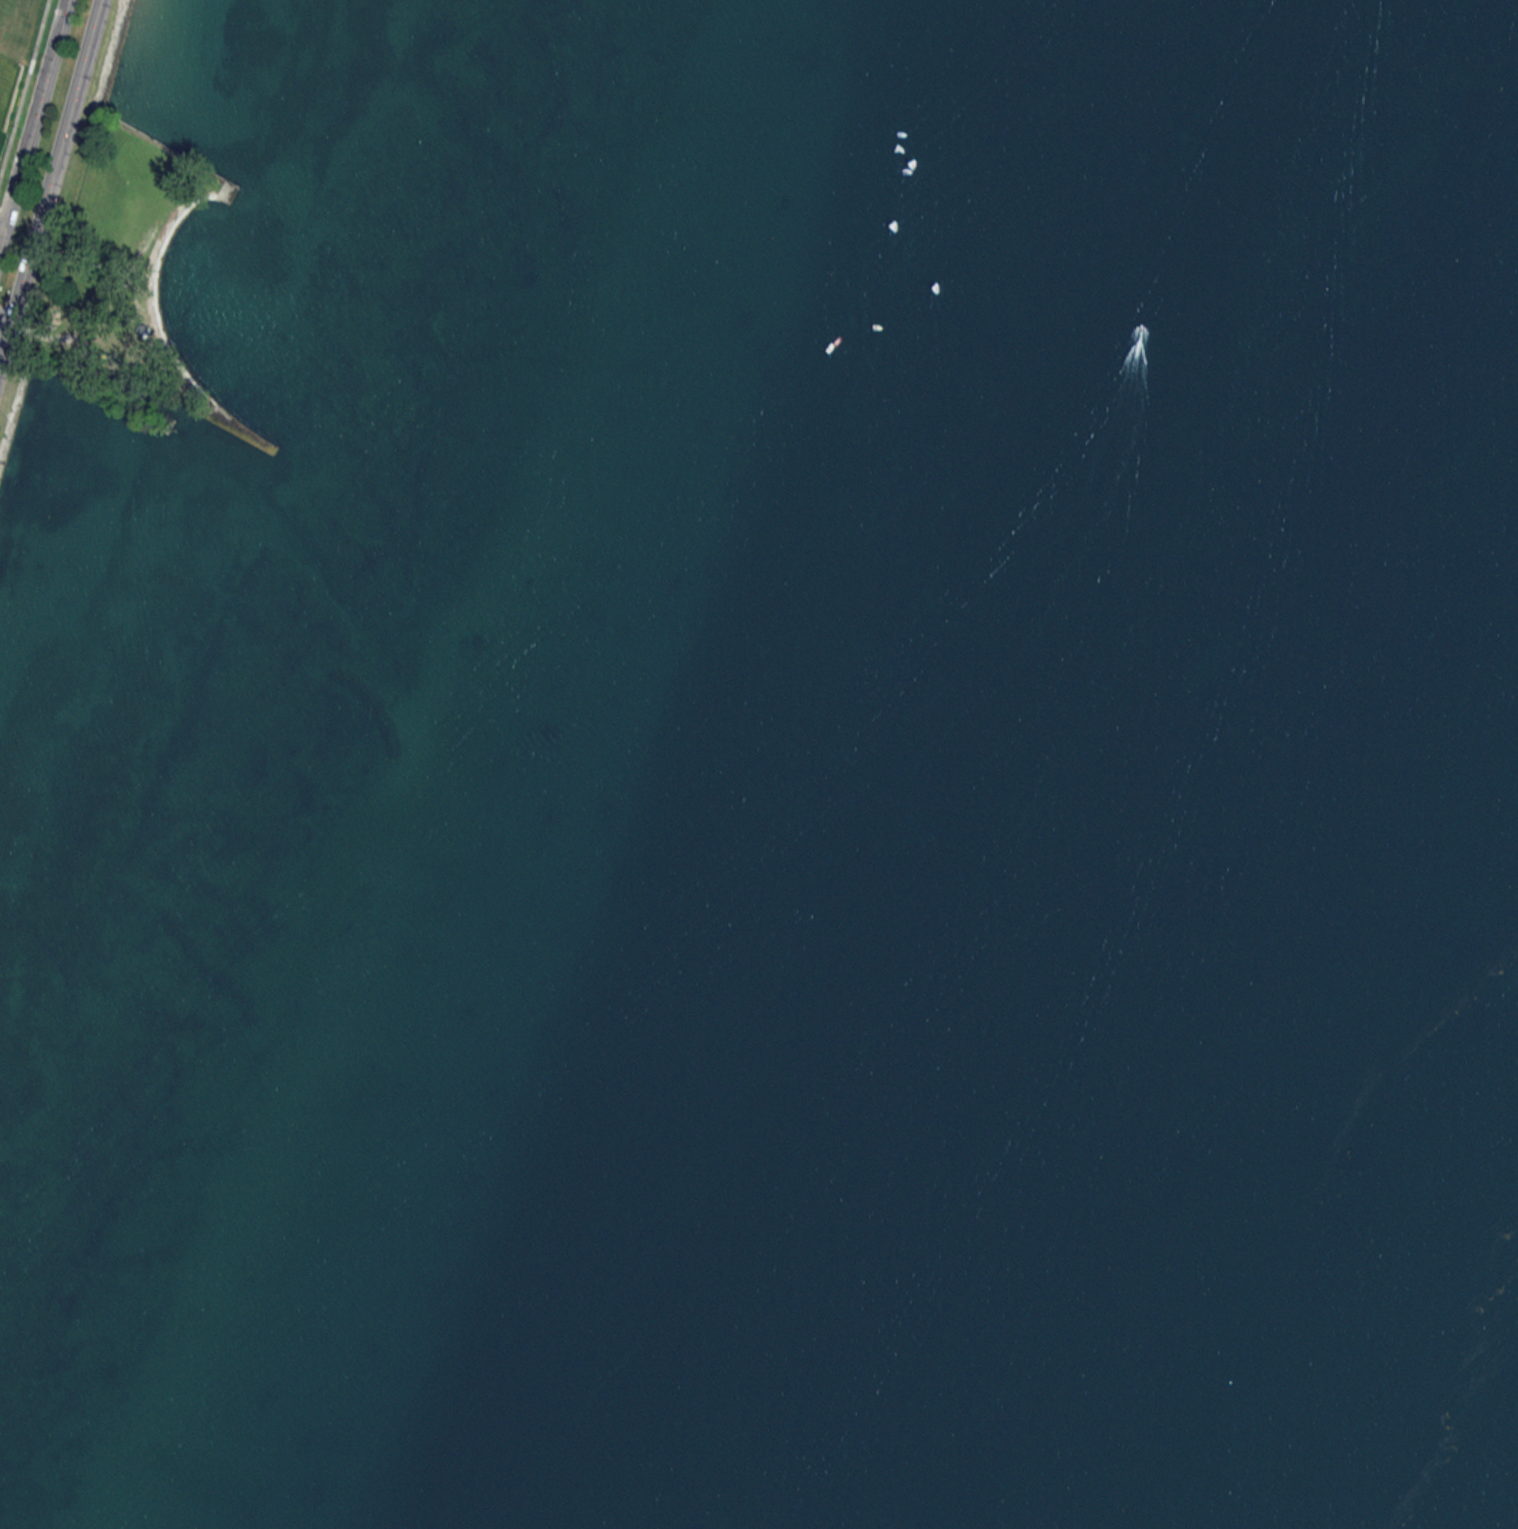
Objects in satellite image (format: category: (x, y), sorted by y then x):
road: (32, 114)
road: (50, 178)
road: (4, 322)

